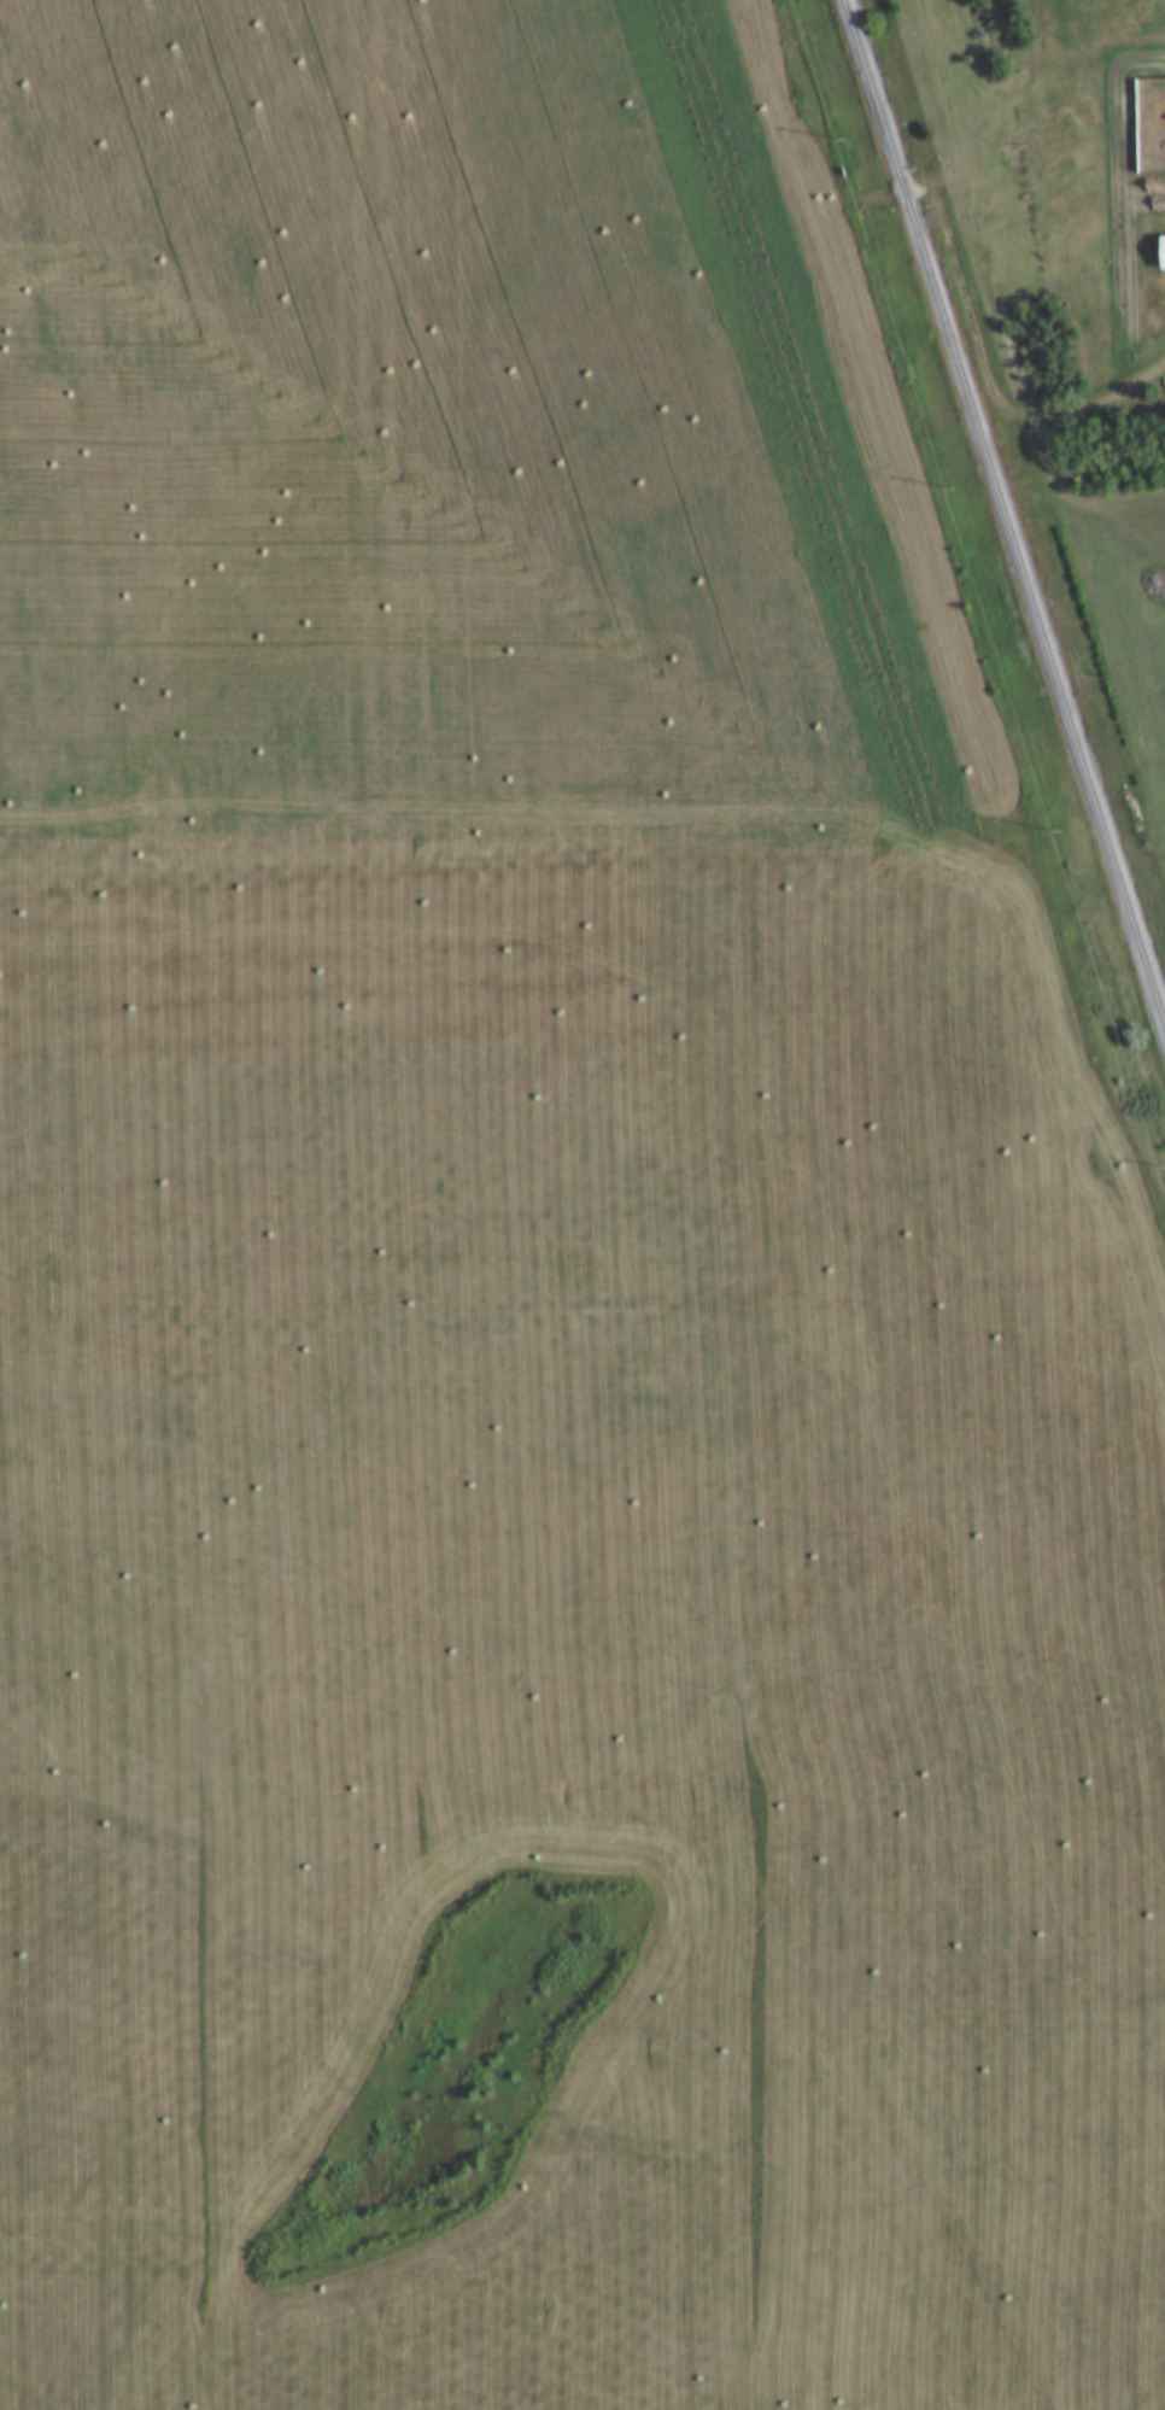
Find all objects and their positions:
railway: (1013, 492)
quarry: (532, 1295)

